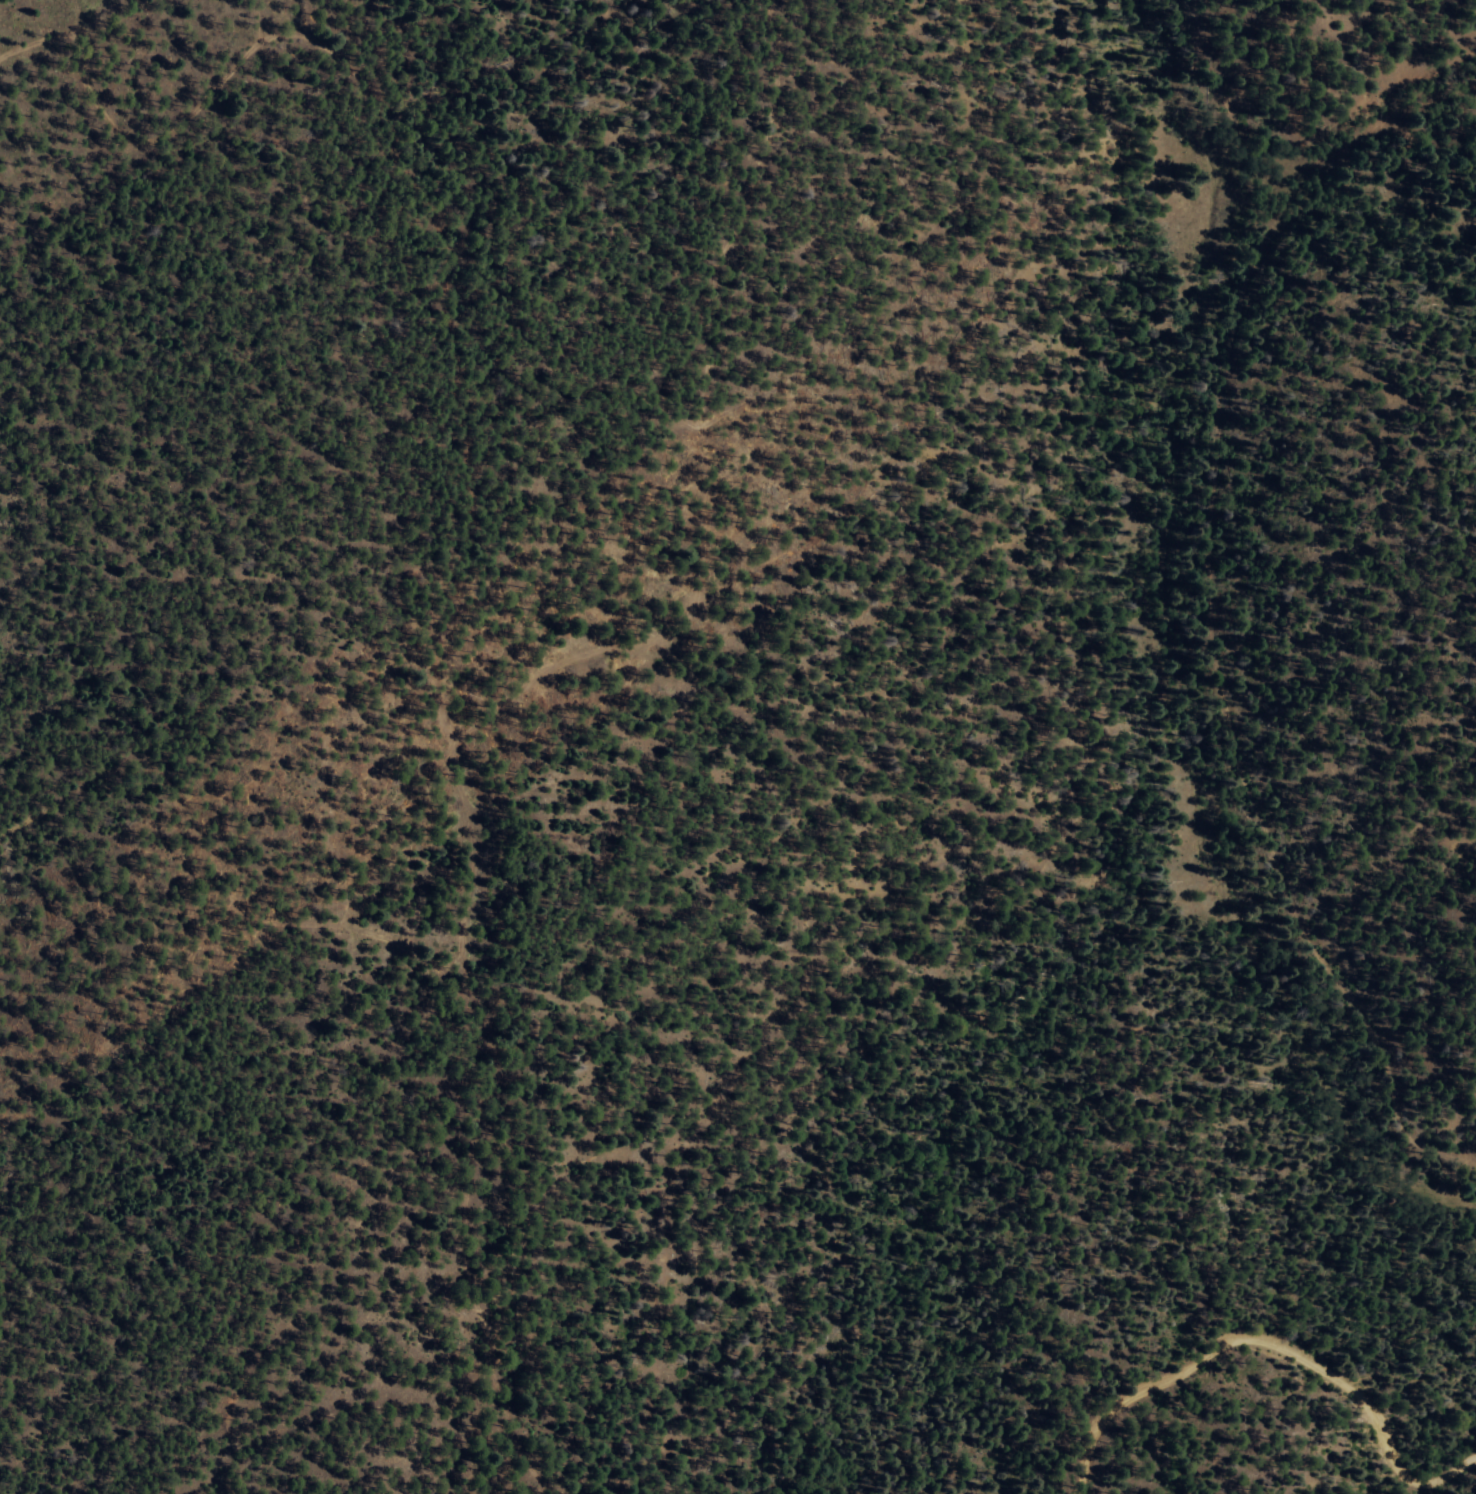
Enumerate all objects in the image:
road: (475, 730)
road: (1241, 1336)
road: (1443, 1481)

